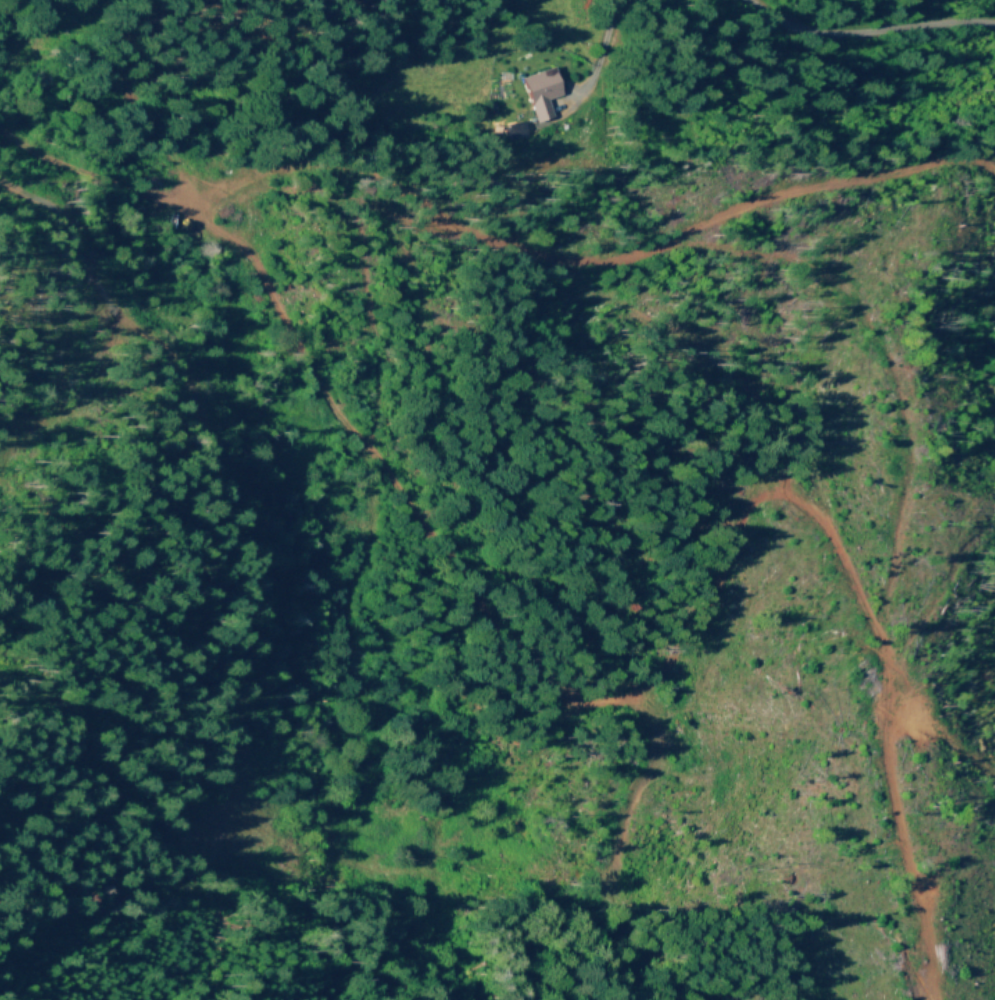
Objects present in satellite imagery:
building: (533, 91)

